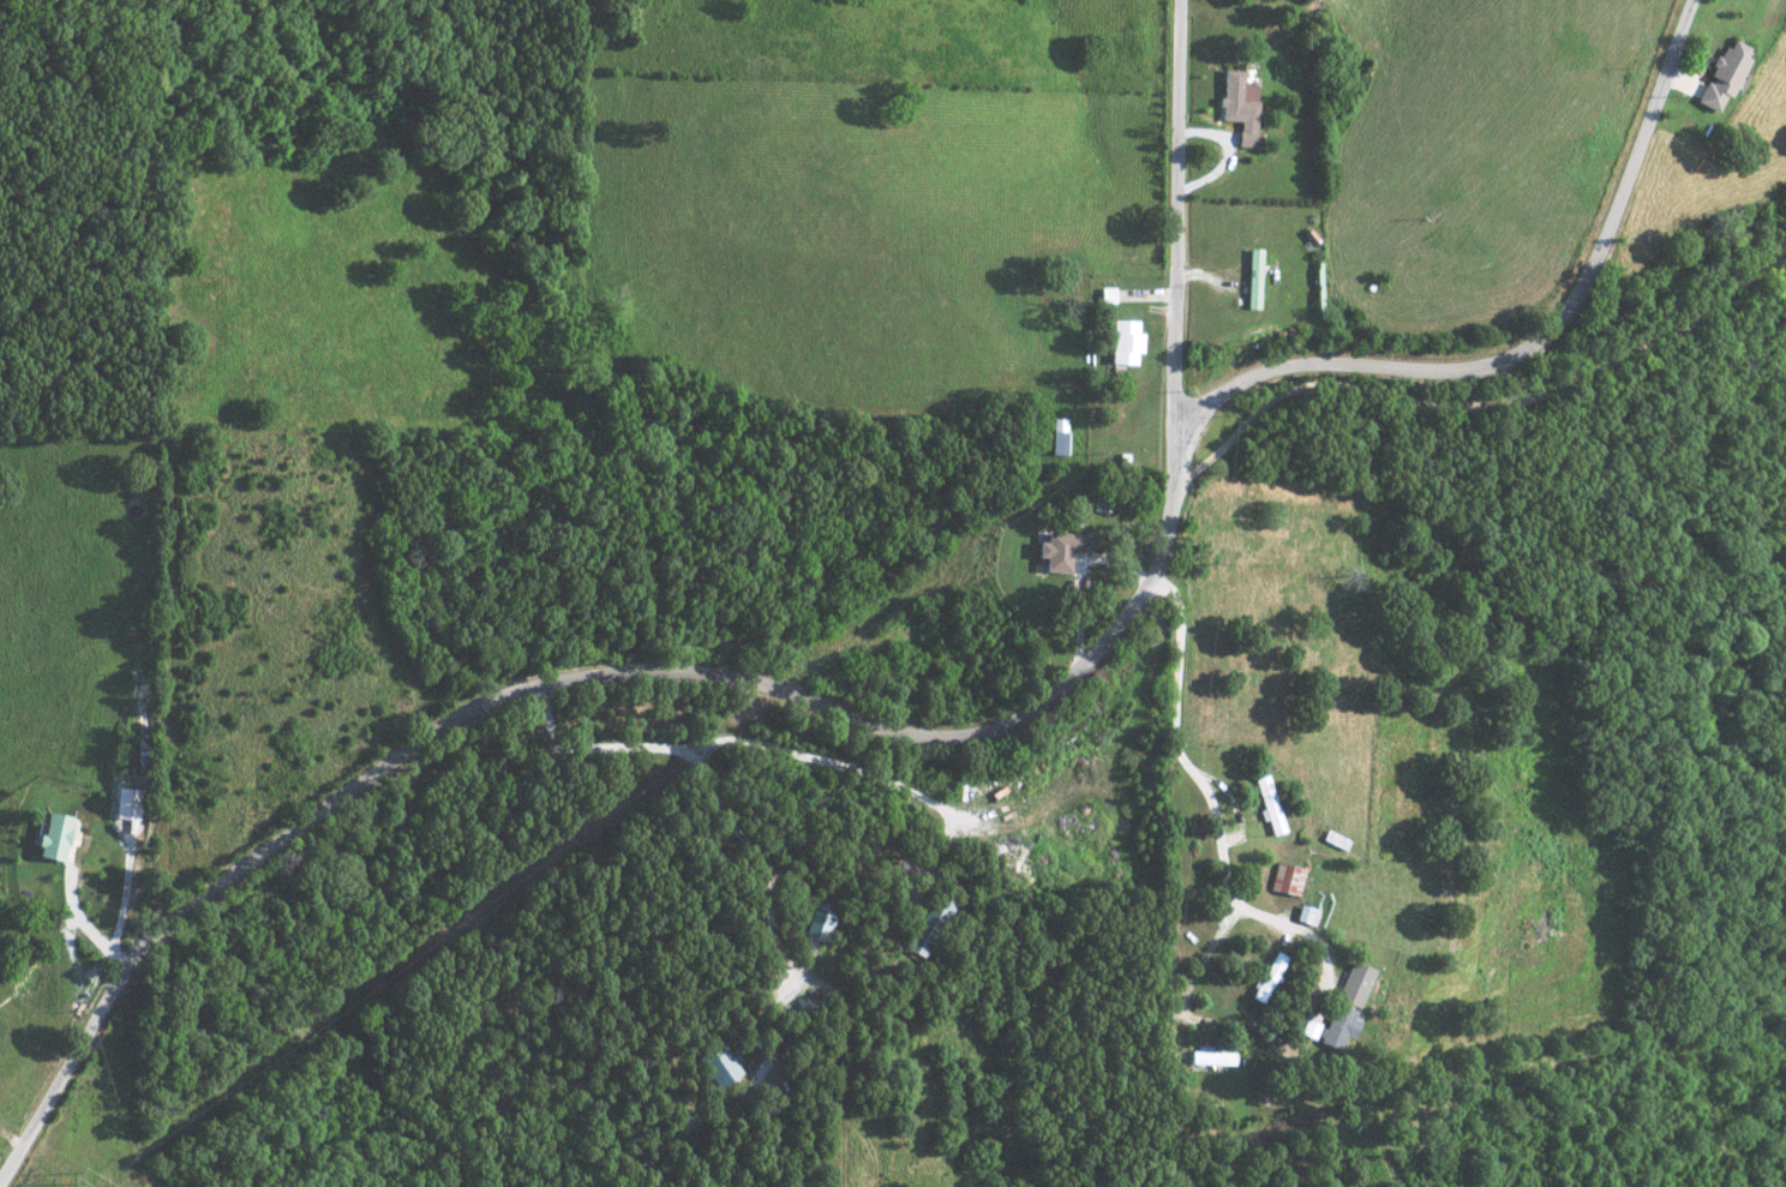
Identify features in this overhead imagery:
building: (1720, 76)
building: (1237, 107)
road: (1176, 245)
building: (1251, 278)
building: (1104, 295)
building: (1122, 342)
road: (1524, 349)
road: (1482, 403)
building: (1056, 434)
building: (1059, 548)
road: (552, 683)
road: (1205, 797)
building: (125, 803)
building: (1266, 804)
building: (52, 834)
building: (1285, 877)
building: (814, 922)
road: (82, 923)
building: (924, 924)
building: (1266, 976)
building: (1346, 1005)
building: (1211, 1056)
building: (717, 1062)
power tower: (68, 1182)

